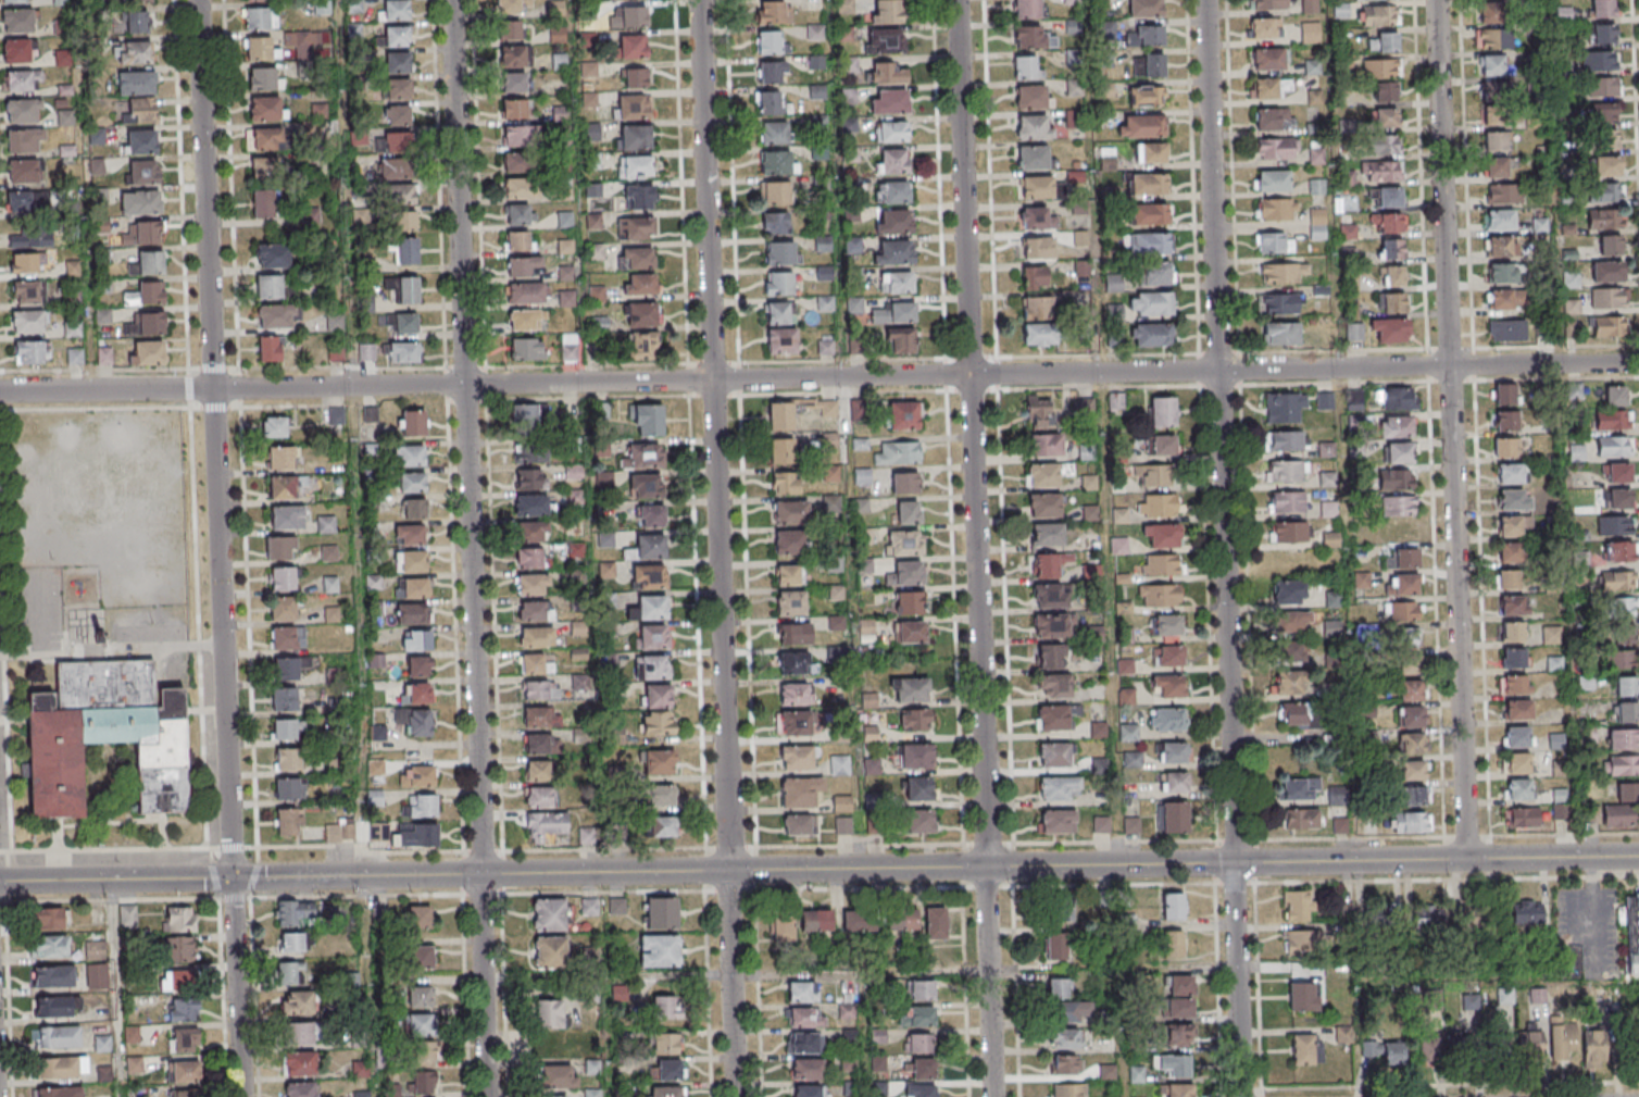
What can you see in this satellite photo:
building: (257, 0)
building: (12, 1)
building: (139, 1)
building: (1101, 3)
building: (1268, 4)
building: (513, 7)
building: (1310, 7)
building: (1144, 8)
building: (1026, 9)
building: (1603, 9)
building: (396, 10)
building: (886, 11)
building: (1489, 11)
building: (771, 12)
building: (1378, 15)
building: (627, 16)
building: (257, 17)
building: (17, 21)
building: (138, 21)
building: (1263, 29)
building: (508, 32)
building: (1310, 33)
building: (1601, 34)
building: (558, 35)
building: (1146, 35)
building: (398, 36)
building: (1029, 36)
building: (1493, 38)
building: (768, 41)
building: (885, 41)
building: (1382, 43)
building: (303, 46)
building: (631, 46)
building: (261, 49)
building: (18, 50)
building: (136, 51)
building: (511, 58)
building: (1267, 60)
building: (1601, 60)
building: (397, 62)
building: (559, 62)
building: (1148, 64)
building: (1491, 65)
building: (1312, 66)
building: (1026, 67)
building: (1380, 70)
building: (771, 72)
building: (886, 72)
building: (633, 77)
building: (264, 78)
building: (20, 80)
building: (136, 83)
building: (513, 84)
building: (1603, 86)
building: (1074, 87)
building: (397, 88)
building: (1265, 88)
building: (1385, 92)
building: (1147, 96)
building: (1031, 97)
building: (1314, 98)
building: (889, 101)
building: (768, 102)
building: (1493, 102)
building: (631, 107)
building: (266, 109)
building: (515, 109)
building: (138, 110)
building: (23, 111)
building: (1603, 113)
building: (398, 116)
building: (1385, 119)
building: (1273, 120)
building: (1140, 125)
building: (1034, 127)
building: (891, 130)
building: (774, 132)
building: (520, 136)
building: (633, 137)
building: (263, 139)
building: (1603, 139)
building: (24, 140)
building: (1496, 140)
building: (141, 141)
building: (395, 144)
building: (1387, 146)
building: (1276, 148)
building: (1150, 152)
building: (1316, 155)
building: (1033, 158)
building: (891, 161)
building: (776, 162)
building: (518, 163)
building: (634, 166)
building: (1606, 166)
building: (1497, 167)
building: (395, 169)
building: (264, 170)
building: (23, 171)
building: (145, 172)
building: (1382, 172)
building: (1272, 180)
building: (1146, 184)
building: (1036, 187)
building: (1317, 187)
building: (522, 189)
building: (892, 191)
building: (775, 192)
building: (1506, 194)
building: (1605, 194)
building: (398, 195)
building: (637, 197)
building: (1390, 197)
building: (23, 201)
building: (140, 202)
building: (263, 204)
road: (179, 209)
building: (1277, 209)
building: (518, 214)
building: (1150, 214)
building: (312, 216)
building: (1034, 217)
building: (1500, 220)
building: (1604, 220)
building: (404, 221)
building: (893, 221)
building: (775, 222)
building: (1387, 223)
building: (1317, 224)
building: (1539, 225)
building: (636, 226)
building: (142, 233)
building: (29, 239)
building: (518, 241)
building: (1275, 242)
building: (1149, 244)
building: (1610, 245)
building: (1037, 247)
building: (1501, 247)
building: (1392, 249)
building: (405, 250)
building: (779, 252)
building: (894, 252)
building: (272, 258)
building: (636, 258)
building: (149, 263)
building: (24, 264)
building: (523, 266)
building: (1607, 272)
building: (1283, 273)
building: (1502, 273)
building: (1156, 274)
building: (1392, 276)
building: (1034, 277)
building: (897, 282)
building: (777, 283)
building: (639, 284)
building: (270, 288)
building: (403, 288)
building: (26, 292)
building: (146, 294)
building: (528, 294)
building: (596, 294)
building: (72, 298)
building: (1610, 298)
building: (1506, 299)
building: (1391, 302)
building: (1151, 303)
building: (1277, 303)
building: (1037, 309)
building: (892, 312)
building: (779, 313)
building: (277, 316)
building: (28, 321)
road: (209, 321)
building: (525, 321)
building: (402, 323)
building: (146, 324)
building: (599, 324)
building: (1609, 326)
building: (641, 329)
building: (1506, 329)
building: (1353, 331)
building: (1390, 331)
building: (1279, 333)
building: (1039, 335)
building: (1151, 335)
building: (781, 340)
building: (901, 340)
building: (825, 346)
building: (568, 347)
building: (528, 349)
building: (268, 350)
building: (400, 351)
building: (32, 352)
building: (149, 352)
building: (366, 352)
building: (74, 356)
building: (104, 356)
road: (819, 377)
building: (1503, 394)
building: (1616, 396)
building: (1396, 398)
building: (1325, 400)
building: (1285, 408)
building: (827, 409)
building: (1037, 413)
building: (1163, 413)
building: (371, 414)
building: (780, 415)
building: (903, 415)
building: (336, 416)
building: (527, 416)
building: (646, 419)
building: (1613, 420)
building: (1505, 421)
building: (413, 423)
building: (273, 427)
building: (1396, 427)
road: (1450, 428)
road: (1219, 431)
building: (1286, 440)
building: (1046, 445)
building: (1161, 445)
building: (1506, 446)
building: (1614, 446)
building: (783, 450)
building: (530, 452)
building: (899, 452)
building: (1399, 452)
building: (1577, 452)
building: (410, 456)
building: (645, 456)
building: (279, 458)
building: (1286, 471)
building: (576, 472)
building: (1511, 473)
building: (1616, 473)
building: (1046, 474)
building: (1153, 475)
building: (530, 478)
building: (1327, 478)
building: (1394, 479)
building: (904, 482)
building: (413, 483)
building: (785, 483)
building: (645, 485)
building: (292, 487)
building: (1513, 499)
building: (1618, 499)
building: (1287, 502)
building: (830, 503)
building: (531, 504)
building: (1158, 504)
building: (1043, 506)
building: (1398, 506)
building: (415, 508)
building: (791, 512)
building: (908, 512)
building: (652, 516)
building: (286, 518)
building: (326, 524)
building: (1510, 525)
building: (1614, 525)
building: (531, 531)
building: (1288, 532)
building: (1048, 534)
building: (410, 535)
building: (1161, 536)
building: (789, 541)
building: (904, 543)
building: (279, 548)
road: (470, 548)
building: (648, 548)
road: (717, 548)
road: (975, 548)
building: (1621, 551)
building: (1510, 552)
building: (529, 558)
building: (1402, 558)
building: (412, 561)
building: (1162, 564)
building: (1046, 565)
building: (608, 570)
road: (743, 572)
building: (787, 572)
building: (906, 573)
building: (648, 577)
building: (281, 578)
building: (1509, 579)
building: (1617, 581)
building: (330, 584)
building: (533, 584)
building: (416, 588)
building: (1289, 593)
building: (1159, 595)
building: (1050, 596)
building: (790, 602)
building: (909, 602)
building: (1513, 606)
building: (652, 607)
building: (1124, 607)
building: (1624, 607)
building: (283, 609)
building: (531, 611)
building: (1404, 611)
building: (413, 613)
building: (1291, 622)
building: (1167, 625)
building: (1052, 626)
building: (577, 628)
building: (1511, 631)
building: (793, 633)
building: (910, 633)
building: (1125, 635)
building: (1551, 635)
building: (651, 636)
building: (1623, 636)
building: (537, 637)
building: (1406, 637)
building: (288, 638)
building: (416, 639)
building: (1291, 651)
building: (1167, 656)
building: (1048, 657)
building: (1514, 658)
building: (1621, 660)
building: (610, 661)
building: (793, 662)
building: (1553, 663)
building: (533, 664)
building: (418, 665)
building: (1410, 665)
building: (651, 666)
building: (286, 668)
building: (1288, 683)
building: (1515, 684)
building: (580, 686)
building: (1053, 686)
building: (1167, 686)
building: (1626, 686)
building: (910, 689)
building: (1411, 689)
building: (541, 690)
building: (420, 693)
building: (793, 694)
building: (658, 695)
building: (284, 699)
building: (1517, 709)
building: (1627, 711)
building: (1293, 714)
building: (1411, 716)
building: (539, 718)
building: (1052, 718)
building: (1166, 719)
building: (915, 720)
building: (418, 722)
building: (658, 723)
building: (792, 723)
building: (284, 730)
building: (1128, 732)
building: (105, 735)
building: (1516, 736)
building: (1623, 738)
building: (1556, 740)
building: (1411, 743)
building: (541, 744)
building: (1173, 752)
building: (1053, 755)
building: (914, 756)
building: (797, 758)
building: (287, 759)
building: (1133, 759)
road: (226, 760)
building: (659, 761)
building: (1517, 762)
building: (840, 764)
building: (1623, 764)
building: (537, 770)
building: (1413, 771)
building: (416, 775)
building: (1174, 782)
building: (287, 788)
building: (921, 788)
building: (1060, 788)
building: (1300, 788)
building: (1518, 788)
building: (800, 790)
building: (1627, 793)
building: (662, 795)
building: (1337, 795)
building: (1416, 795)
building: (539, 797)
building: (842, 803)
building: (1560, 803)
building: (423, 805)
building: (1621, 815)
building: (1173, 816)
building: (1522, 816)
building: (1303, 819)
building: (288, 821)
building: (918, 822)
building: (1056, 822)
building: (1412, 822)
building: (547, 824)
building: (800, 824)
building: (1101, 824)
building: (843, 825)
building: (1131, 825)
building: (1339, 825)
building: (664, 826)
building: (339, 831)
building: (417, 835)
road: (127, 849)
road: (1060, 864)
road: (355, 876)
traffic signals: (232, 878)
road: (115, 880)
building: (1297, 905)
building: (1173, 906)
building: (1058, 907)
road: (1592, 910)
building: (295, 912)
building: (660, 912)
building: (1527, 912)
building: (548, 914)
building: (127, 917)
building: (418, 917)
building: (1428, 917)
building: (48, 919)
building: (180, 920)
building: (816, 920)
building: (860, 921)
building: (898, 921)
building: (936, 925)
building: (781, 930)
building: (1631, 932)
building: (292, 943)
building: (1304, 943)
building: (1173, 944)
building: (50, 946)
building: (1055, 946)
building: (178, 949)
building: (95, 950)
building: (659, 950)
building: (549, 952)
building: (421, 957)
road: (736, 973)
building: (287, 974)
building: (53, 976)
road: (1236, 980)
building: (177, 981)
building: (1180, 984)
road: (236, 987)
building: (1058, 987)
road: (116, 988)
building: (922, 989)
building: (801, 990)
building: (420, 996)
building: (1303, 997)
building: (1536, 998)
building: (298, 1003)
building: (666, 1007)
building: (1180, 1007)
building: (53, 1008)
building: (183, 1009)
building: (846, 1010)
building: (1071, 1010)
building: (550, 1013)
building: (916, 1015)
building: (802, 1017)
building: (420, 1024)
road: (864, 1034)
building: (300, 1035)
building: (1177, 1035)
building: (55, 1038)
building: (1064, 1038)
building: (1563, 1039)
building: (184, 1040)
building: (804, 1042)
building: (918, 1043)
building: (1529, 1043)
building: (667, 1044)
building: (1428, 1044)
building: (566, 1045)
building: (1468, 1046)
building: (1593, 1048)
building: (1306, 1049)
building: (423, 1051)
building: (297, 1063)
building: (1173, 1064)
building: (1064, 1065)
building: (62, 1069)
building: (666, 1069)
building: (806, 1069)
building: (922, 1069)
building: (359, 1070)
building: (184, 1073)
building: (558, 1076)
building: (423, 1082)
road: (1450, 1085)
building: (1176, 1089)
building: (300, 1090)
building: (811, 1090)
building: (922, 1090)
building: (60, 1092)
building: (666, 1092)
road: (1261, 1093)
building: (182, 1094)

